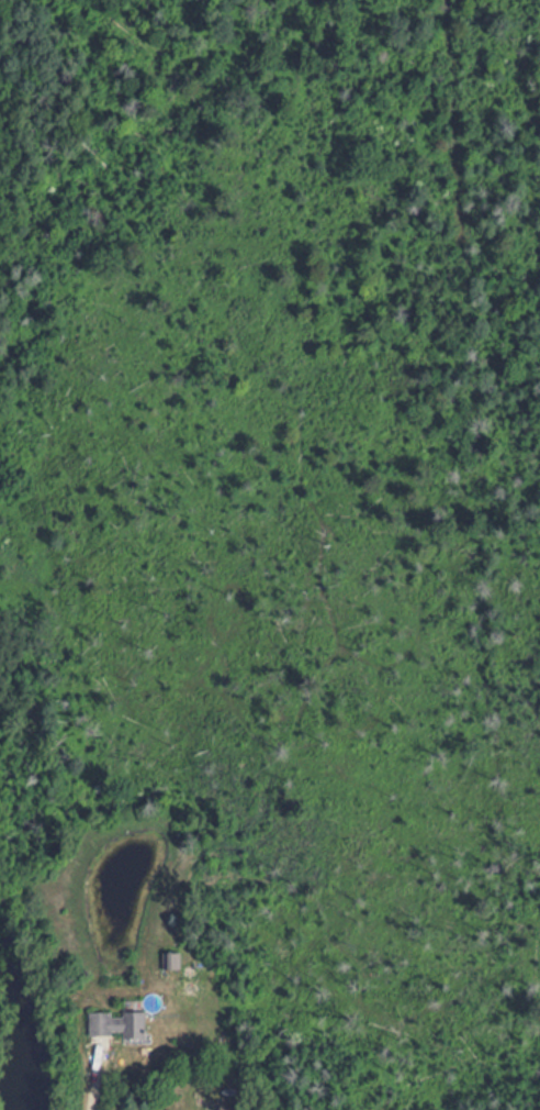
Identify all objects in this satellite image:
building: (176, 962)
building: (124, 1023)

